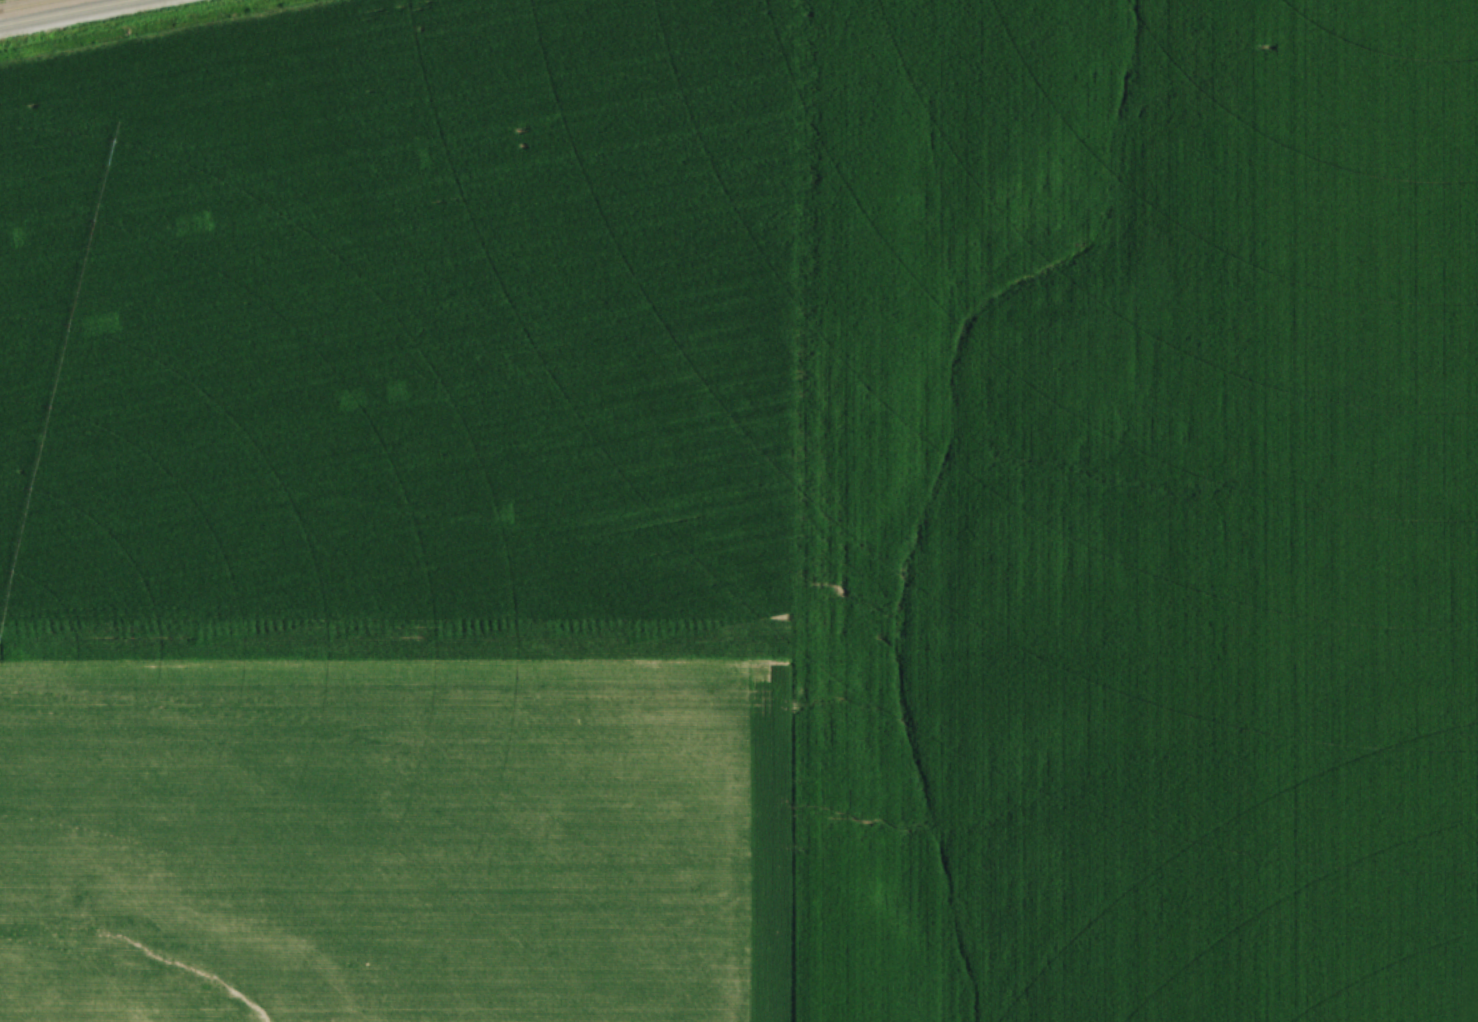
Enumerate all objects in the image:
railway: (14, 2)
railway: (61, 12)

